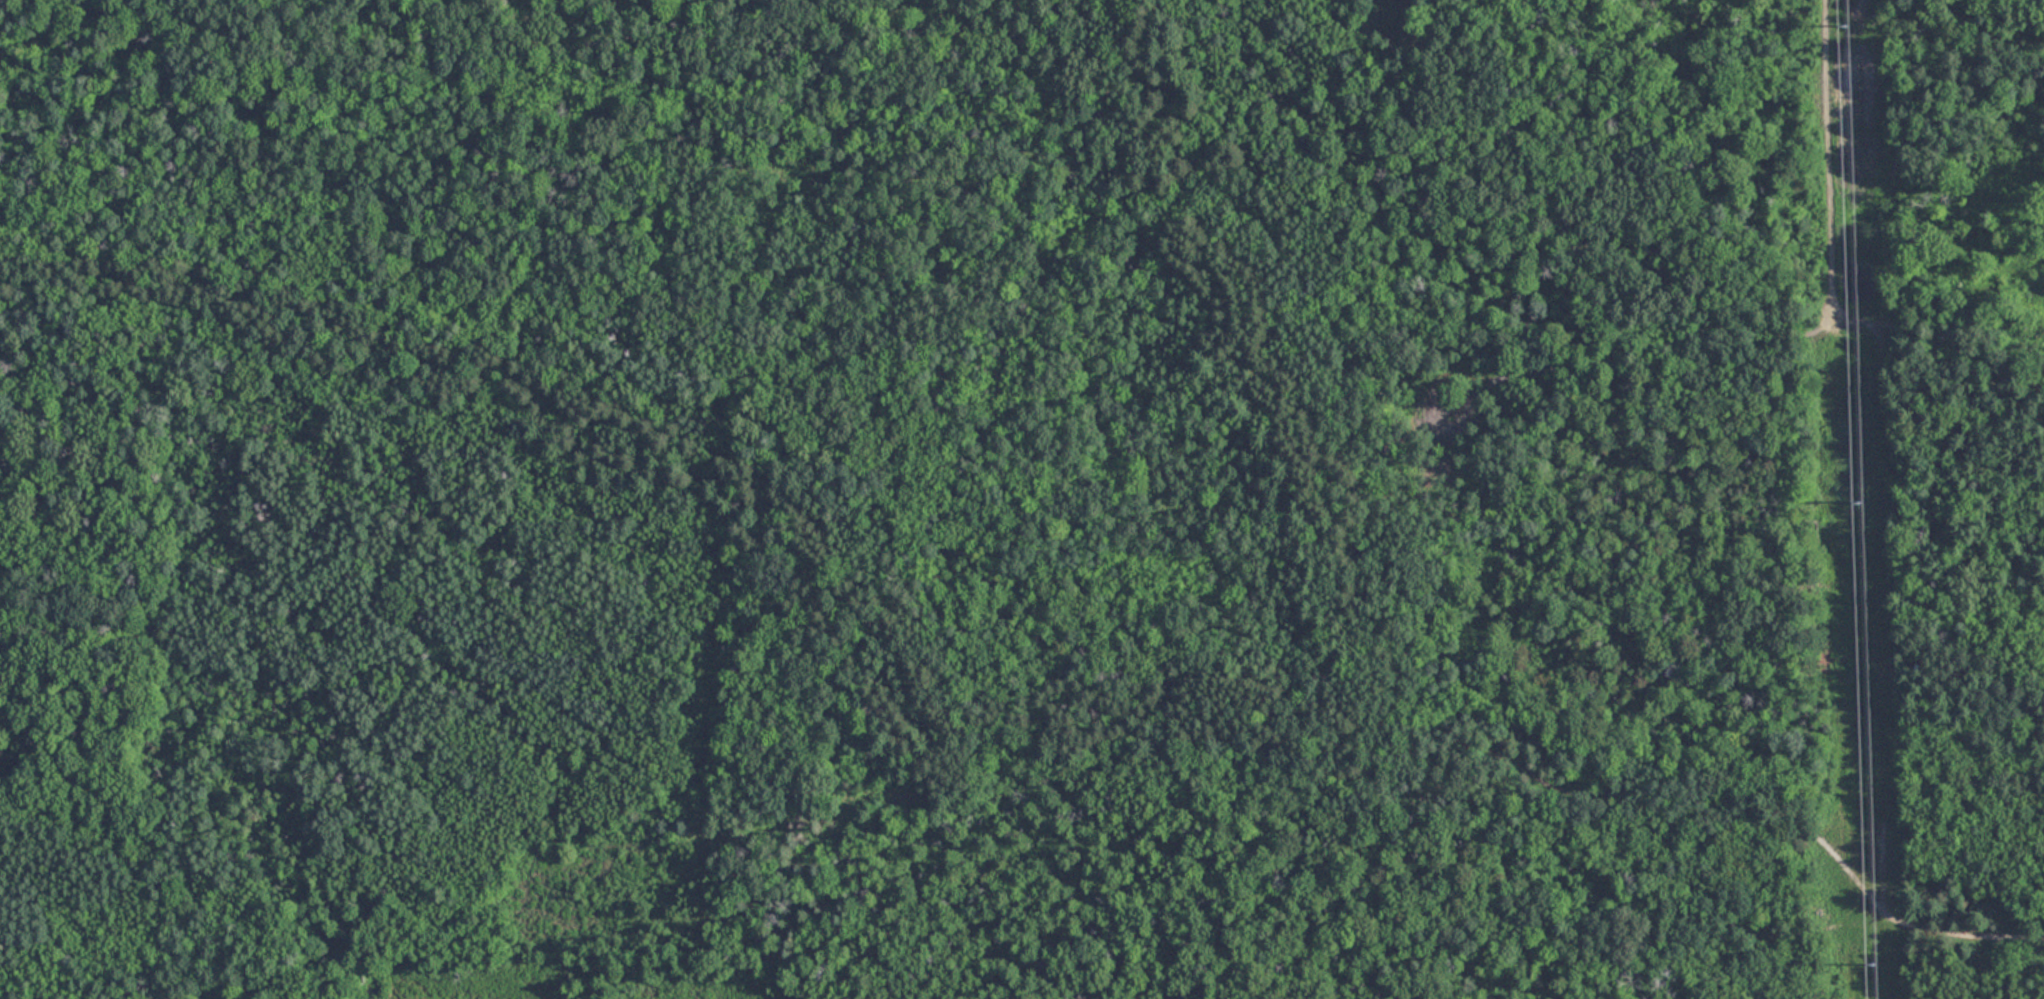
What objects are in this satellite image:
power tower: (1845, 28)
park: (689, 501)
power tower: (1856, 501)
power tower: (1874, 965)

